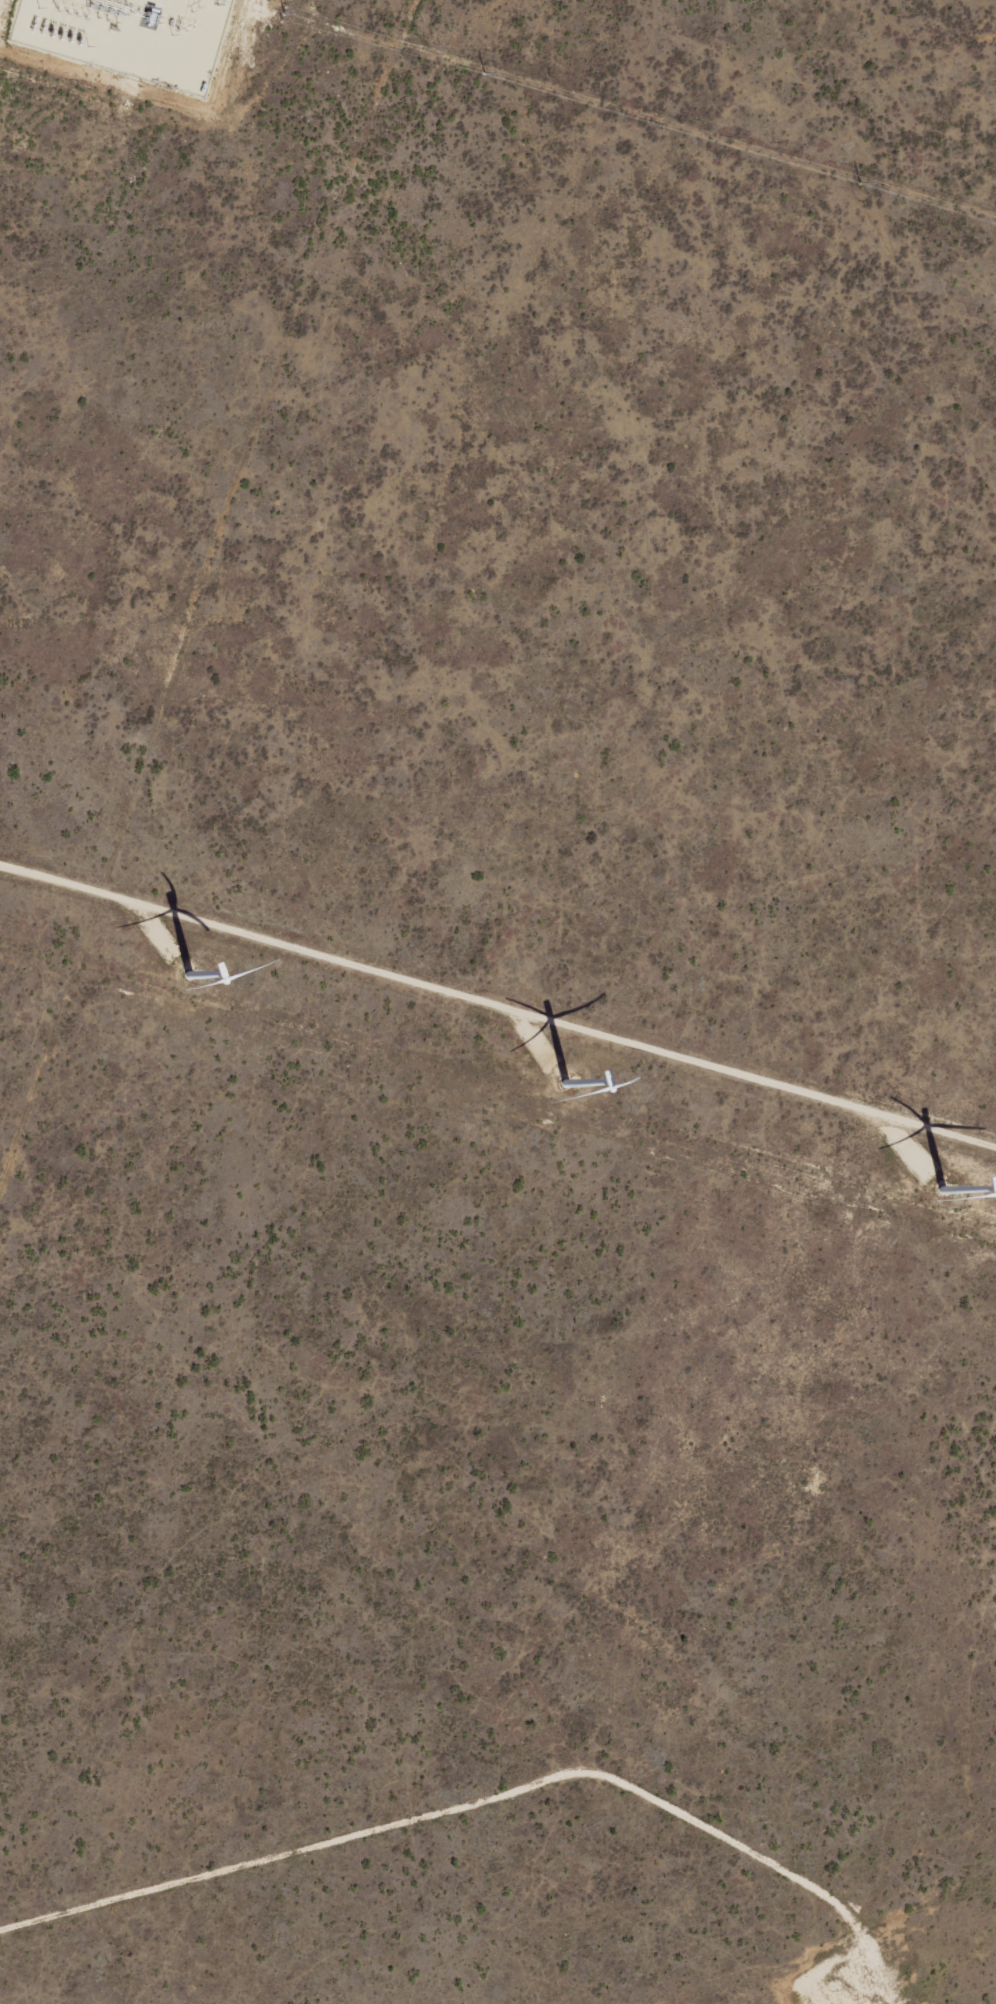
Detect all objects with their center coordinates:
power tower: (284, 12)
power substation: (131, 36)
power tower: (483, 73)
power tower: (859, 183)
wind turbine: (143, 941)
wind turbine: (558, 1080)
wind turbine: (913, 1201)

